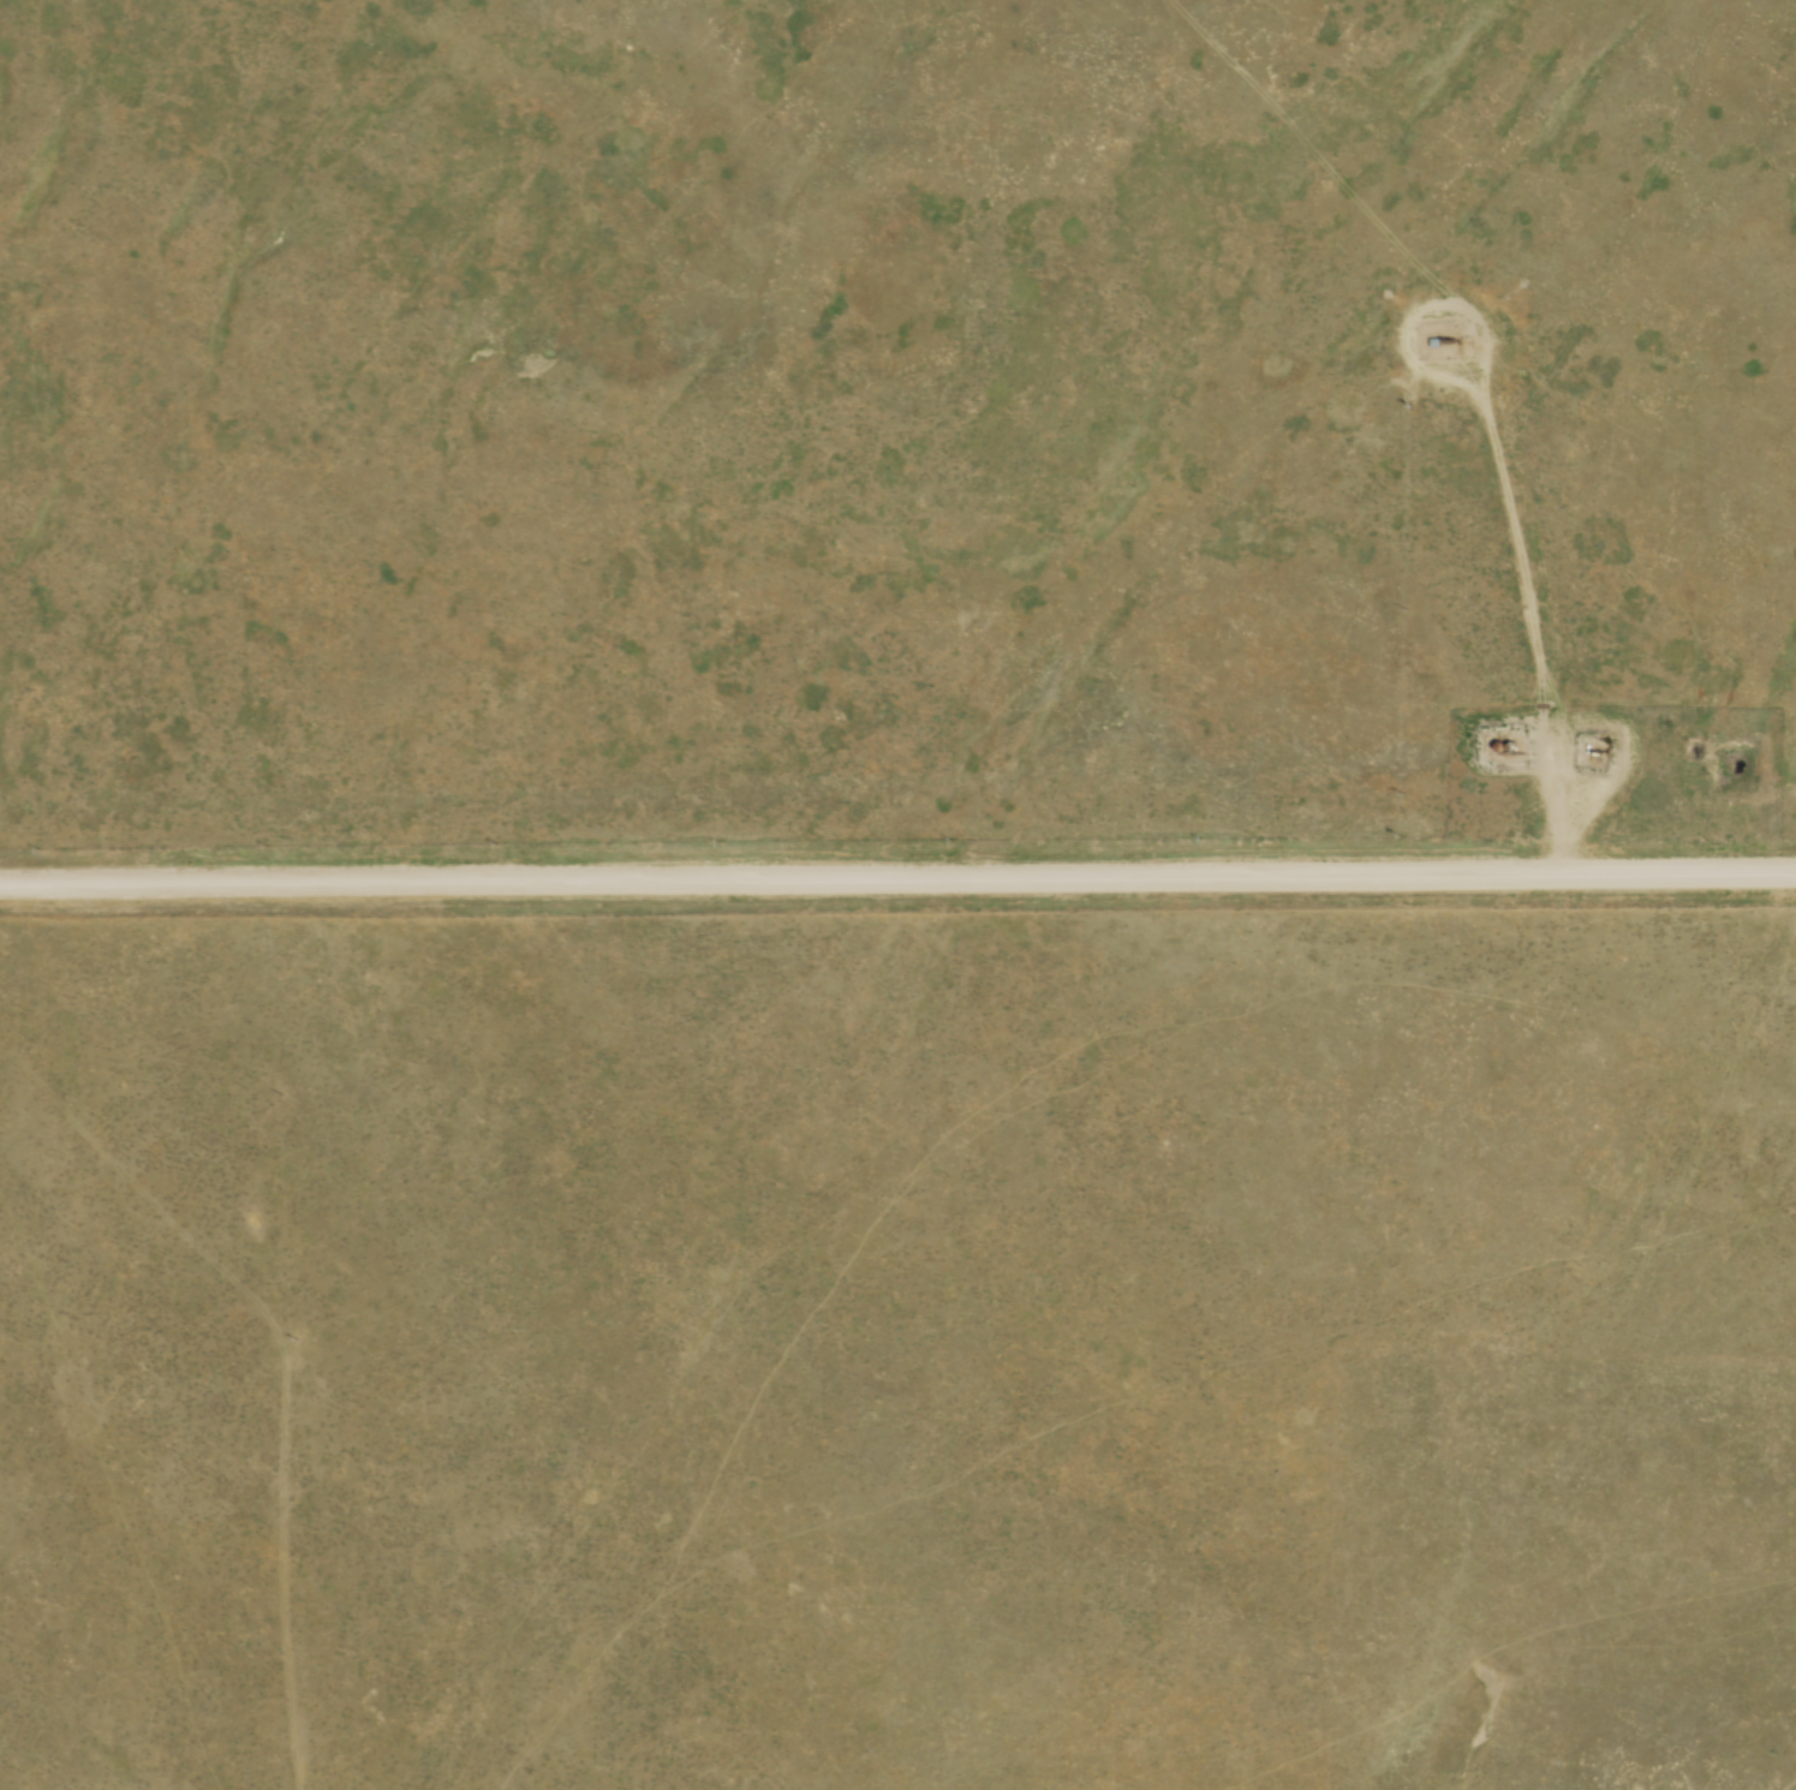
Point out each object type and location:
road: (897, 879)

